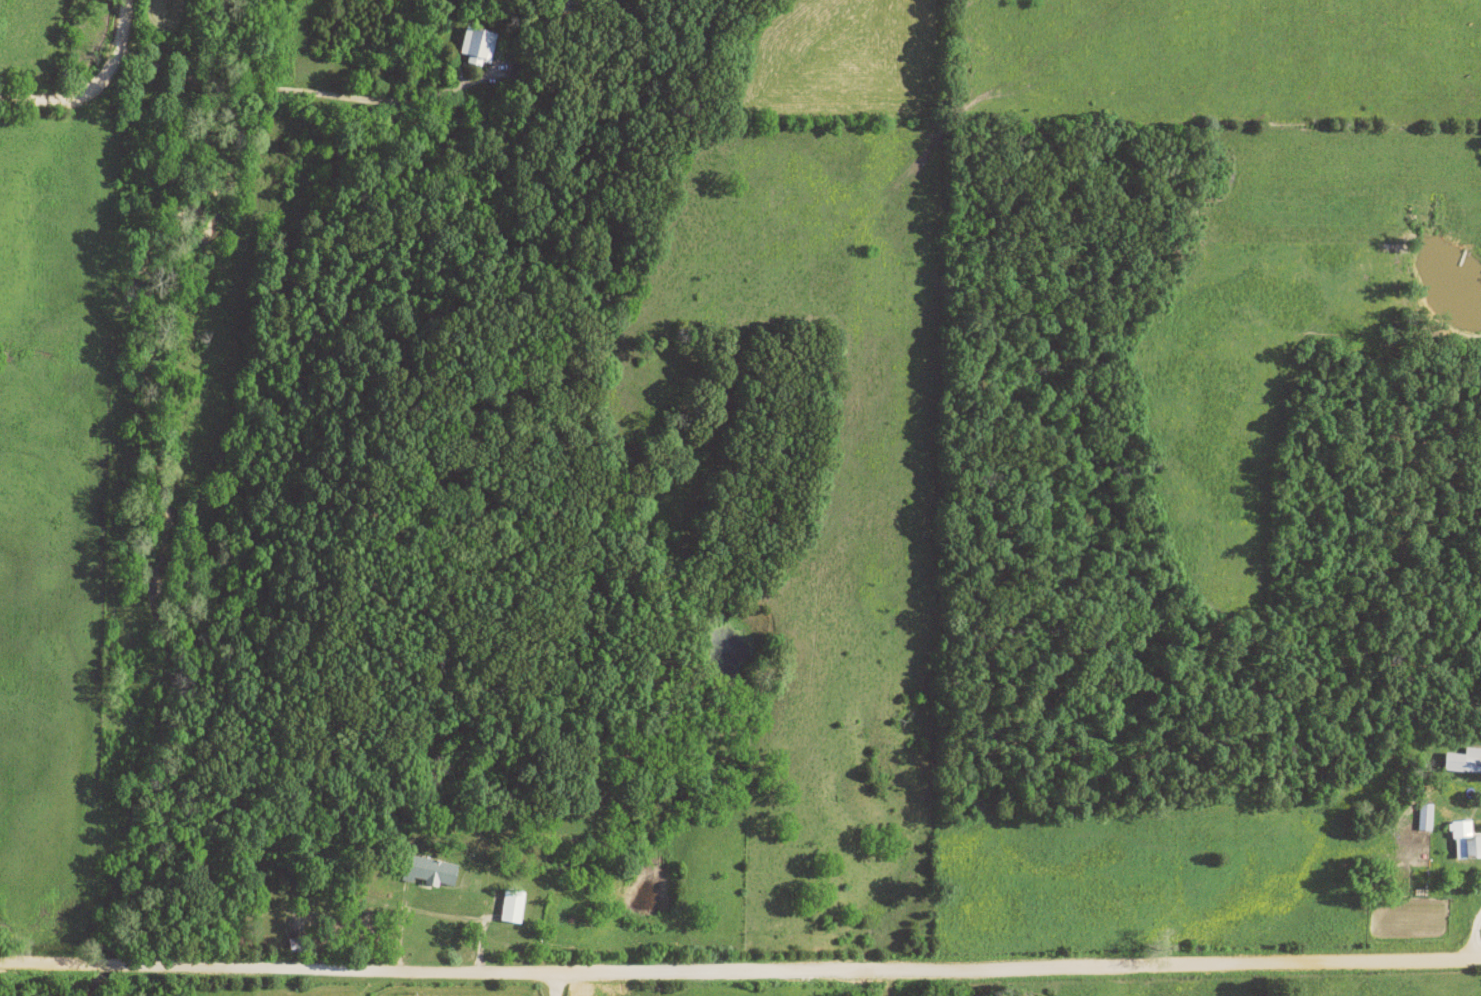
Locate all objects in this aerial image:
building: (477, 47)
road: (92, 89)
road: (301, 92)
building: (1463, 761)
building: (1424, 817)
building: (1465, 841)
building: (428, 872)
road: (1463, 898)
building: (511, 906)
road: (433, 922)
road: (1466, 942)
road: (740, 975)
road: (557, 985)

